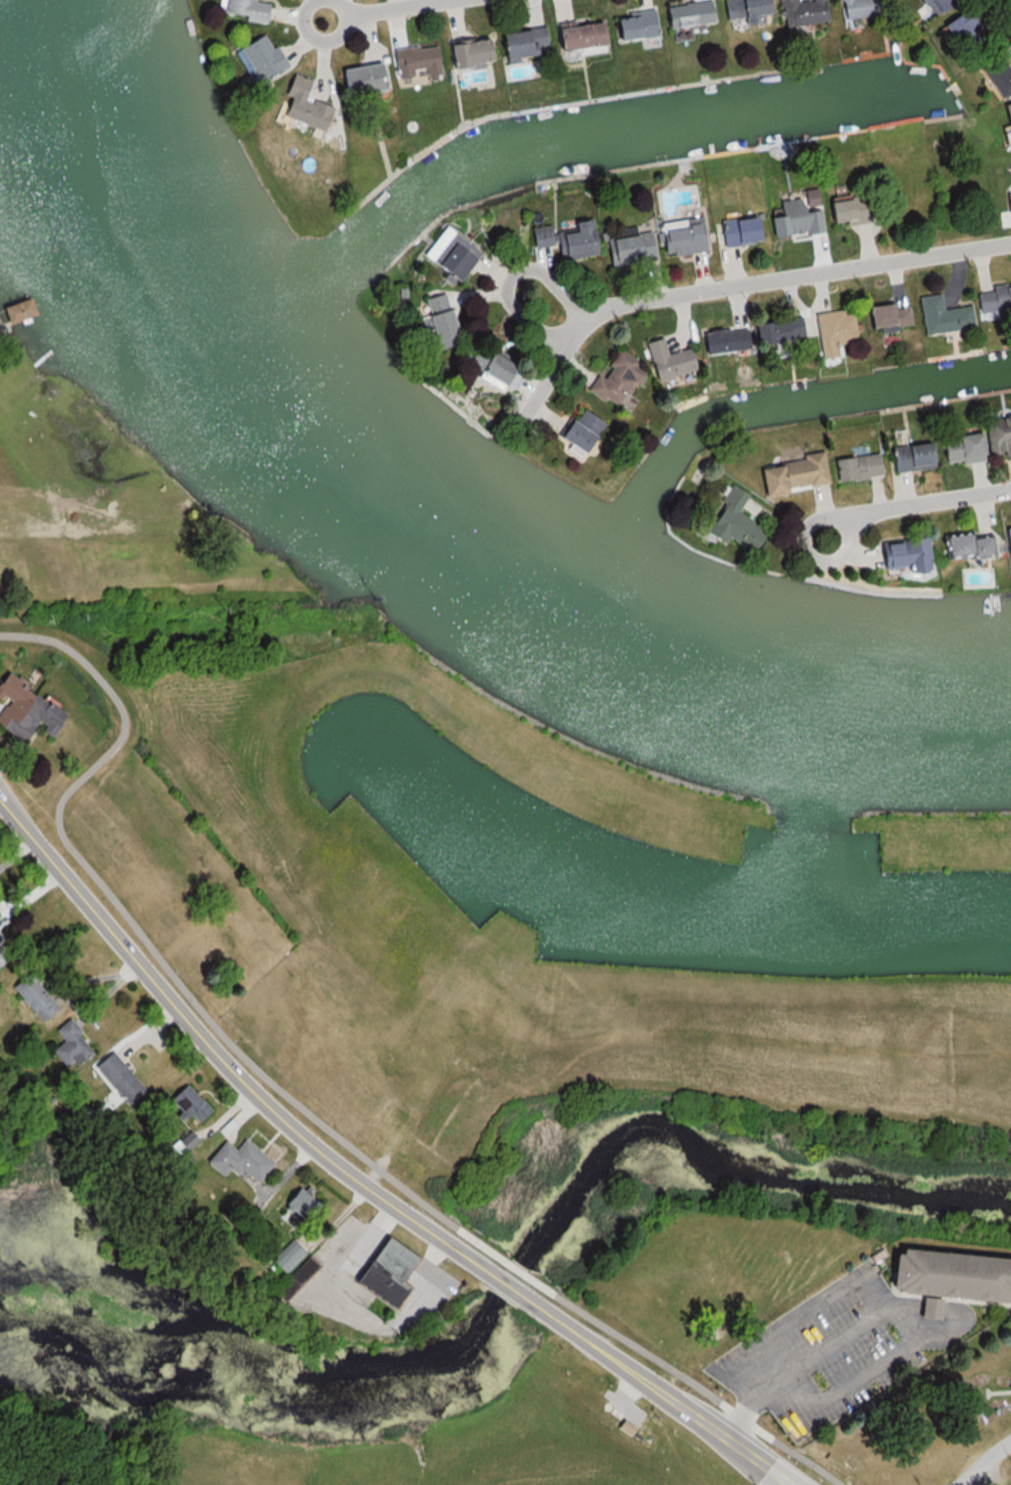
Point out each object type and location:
road: (1009, 2)
building: (938, 4)
building: (253, 9)
building: (741, 9)
building: (853, 9)
road: (355, 10)
building: (799, 12)
building: (687, 14)
building: (631, 27)
building: (964, 35)
building: (575, 36)
building: (519, 42)
building: (465, 53)
building: (269, 57)
building: (419, 61)
building: (372, 77)
building: (309, 104)
building: (1008, 119)
building: (1007, 208)
building: (844, 211)
building: (797, 216)
building: (736, 232)
building: (681, 237)
building: (567, 240)
building: (629, 249)
building: (450, 261)
road: (772, 279)
building: (993, 300)
building: (29, 310)
building: (941, 316)
building: (886, 317)
building: (438, 322)
building: (776, 331)
building: (833, 334)
building: (723, 342)
building: (667, 360)
building: (486, 366)
building: (616, 380)
building: (577, 432)
building: (997, 437)
building: (960, 449)
building: (911, 457)
building: (856, 468)
building: (791, 475)
road: (896, 508)
building: (732, 522)
river: (392, 525)
building: (1006, 542)
building: (965, 546)
building: (901, 556)
building: (32, 709)
park: (530, 924)
building: (0, 930)
building: (4, 955)
building: (41, 996)
building: (77, 1043)
road: (218, 1057)
building: (126, 1077)
building: (195, 1105)
building: (195, 1138)
building: (248, 1159)
building: (292, 1254)
building: (400, 1271)
building: (954, 1275)
building: (302, 1276)
road: (506, 1282)
road: (799, 1370)
road: (660, 1392)
road: (998, 1399)
park: (926, 1425)
building: (626, 1428)
road: (983, 1462)
road: (786, 1484)

